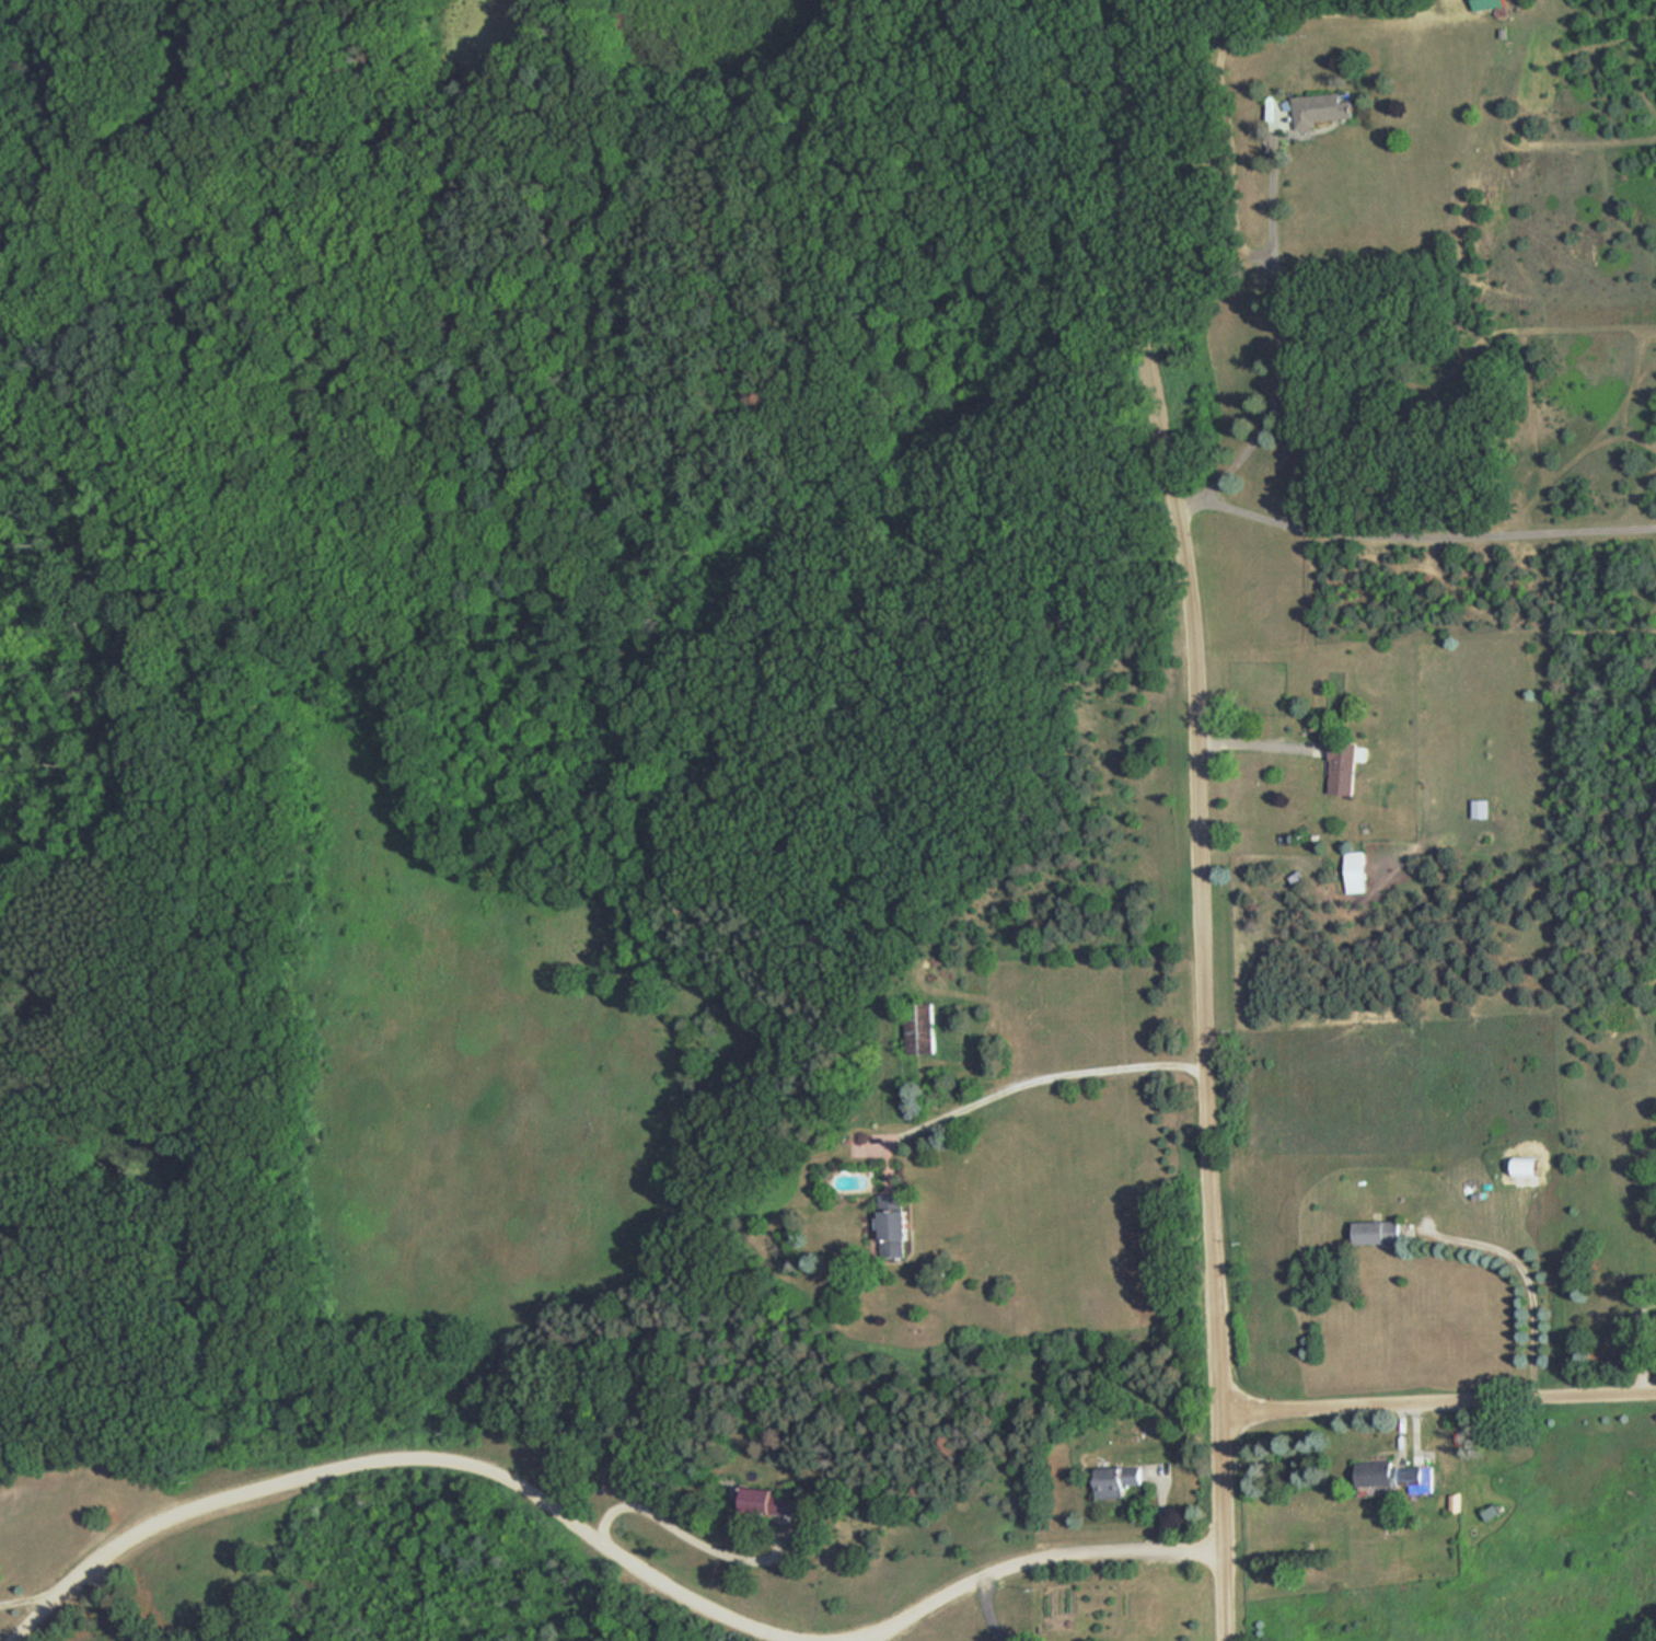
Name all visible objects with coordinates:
building: (1487, 3)
building: (1322, 108)
road: (1282, 346)
park: (483, 449)
road: (1413, 536)
road: (1255, 760)
building: (1342, 766)
building: (1479, 807)
road: (1198, 817)
building: (1355, 871)
building: (924, 1027)
road: (1040, 1094)
building: (896, 1224)
building: (1377, 1230)
road: (1516, 1286)
road: (1435, 1396)
building: (1391, 1474)
building: (1110, 1480)
building: (766, 1502)
road: (682, 1533)
road: (599, 1542)
road: (36, 1590)
road: (108, 1607)
road: (858, 1640)

